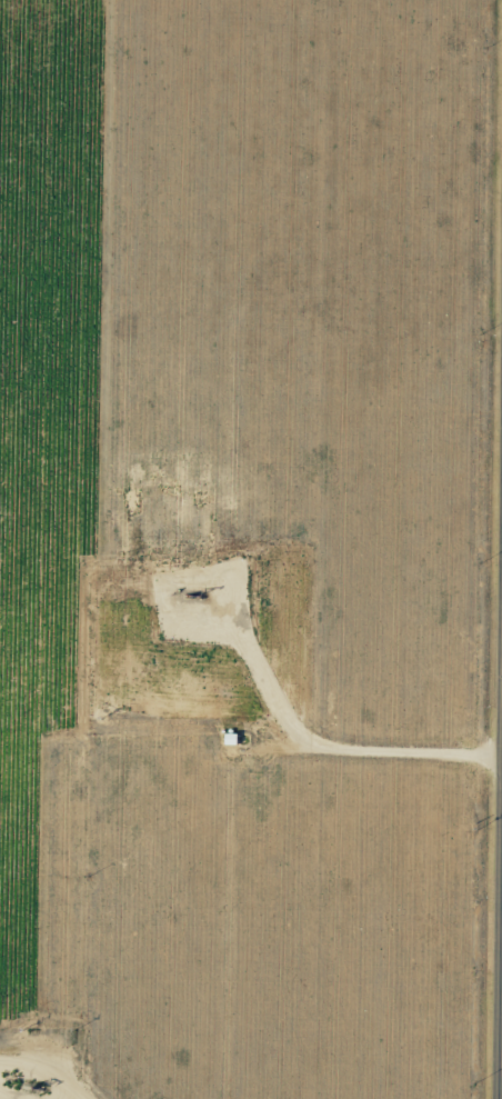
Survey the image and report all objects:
road: (254, 743)
road: (500, 880)
road: (57, 1088)

